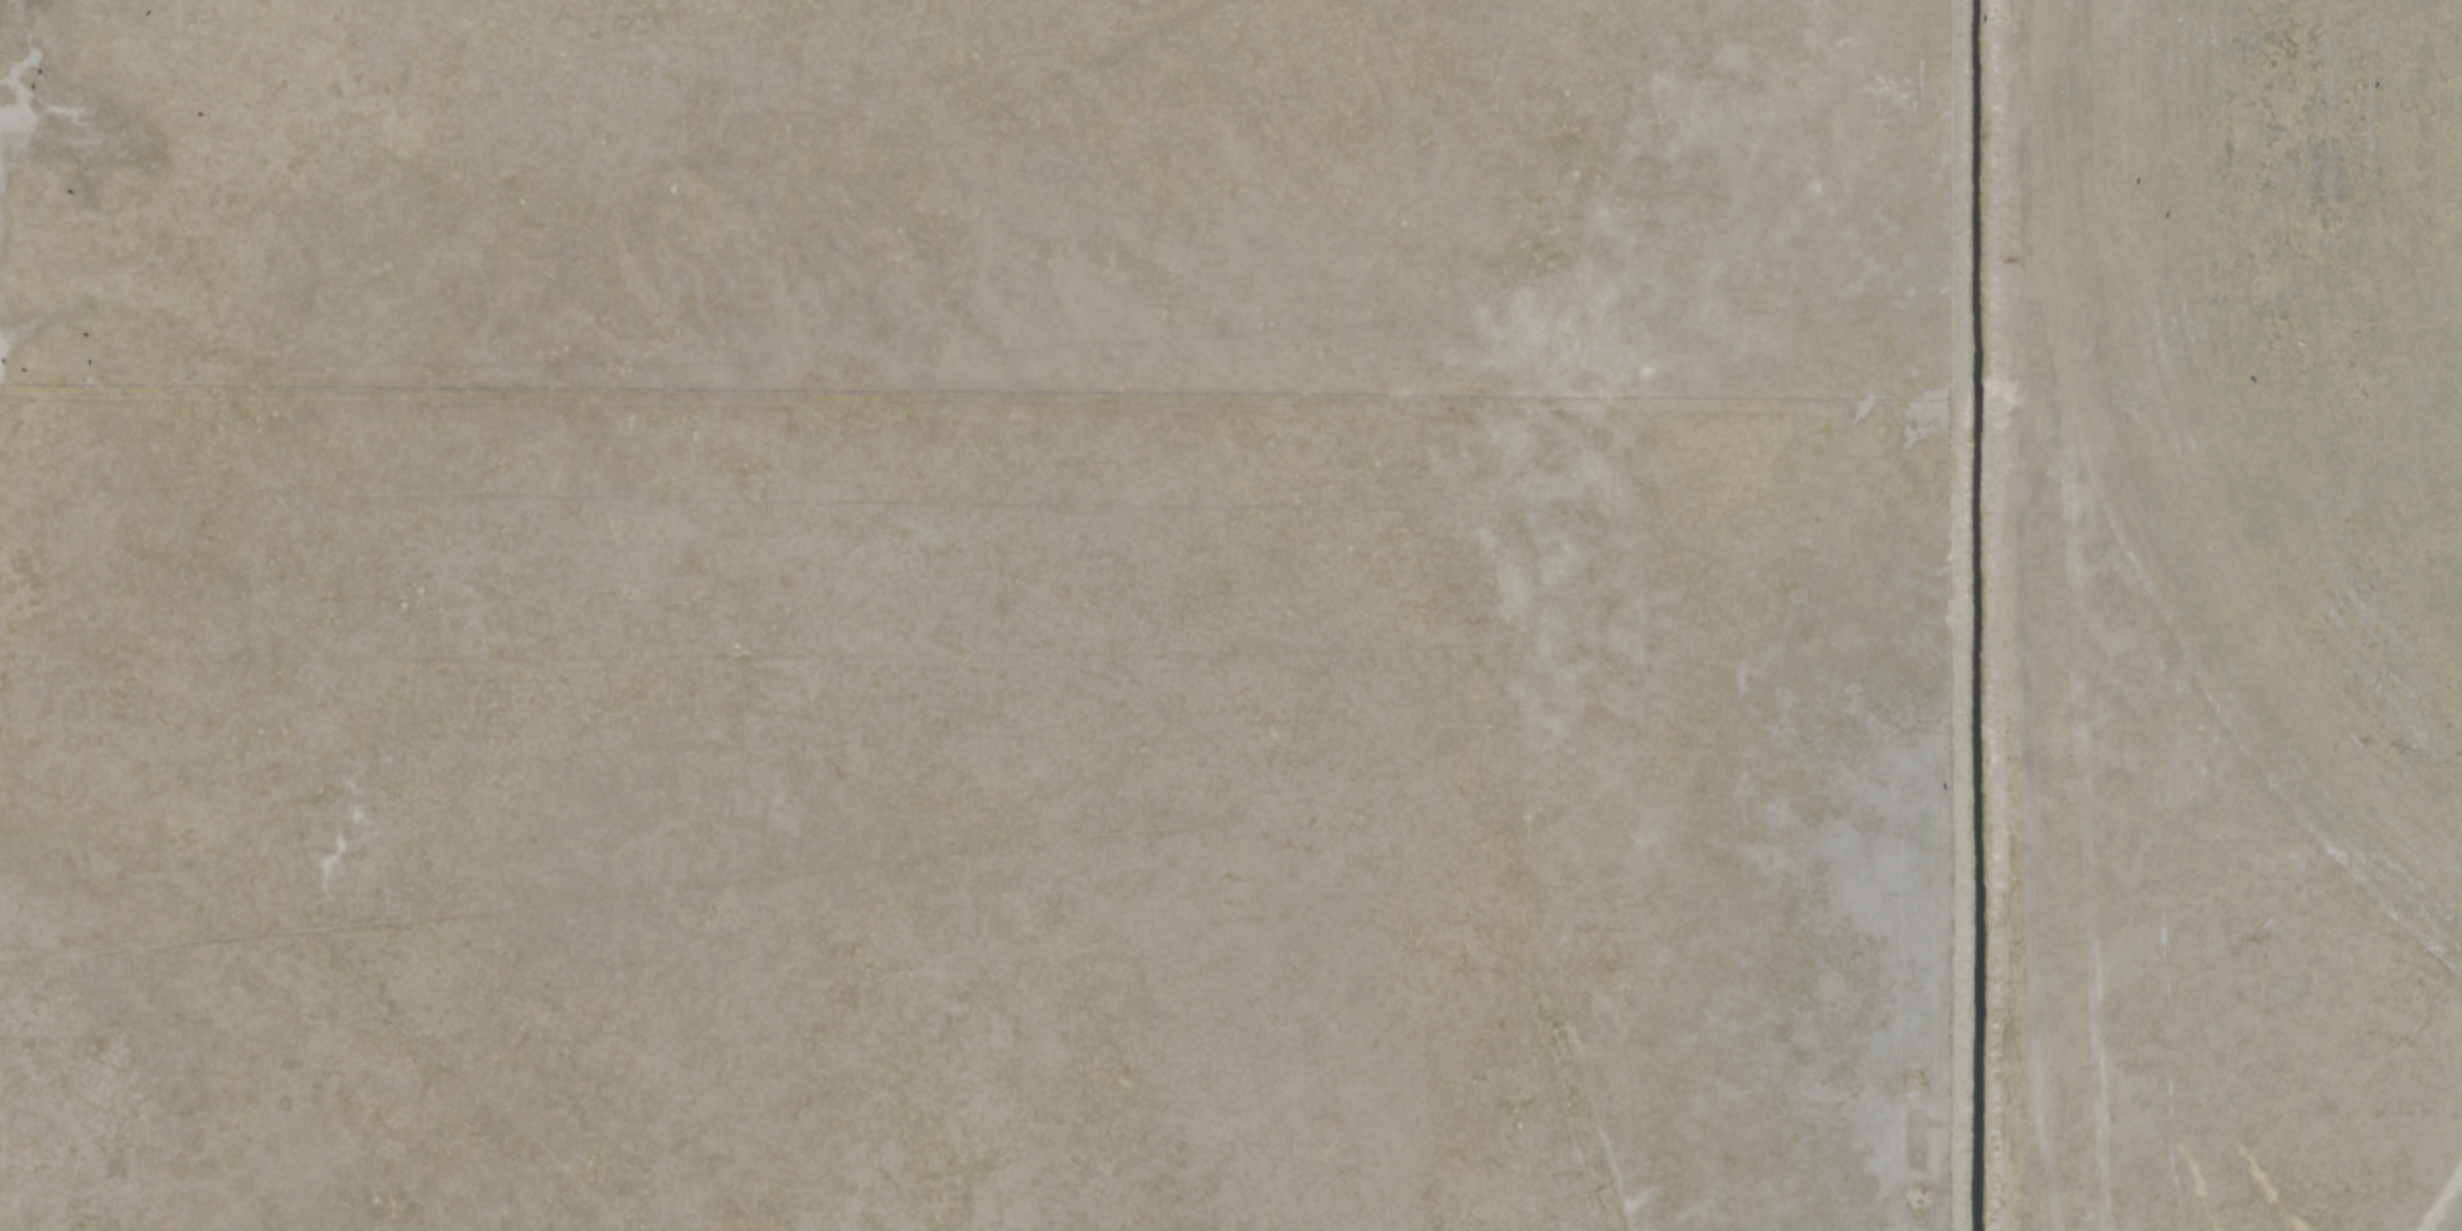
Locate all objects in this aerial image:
crop: (2308, 346)

